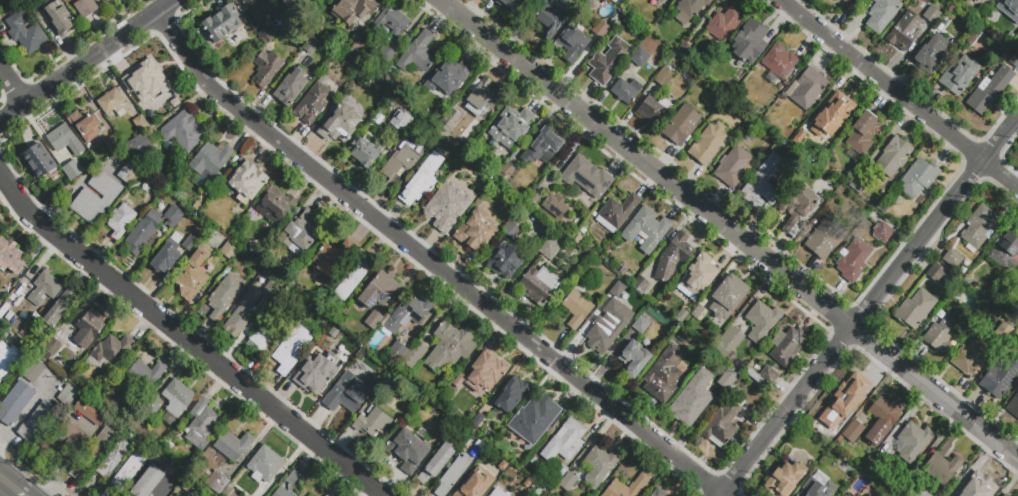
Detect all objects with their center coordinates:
building: (106, 0)
building: (844, 0)
building: (660, 1)
building: (846, 1)
building: (967, 1)
building: (980, 1)
building: (335, 2)
building: (618, 2)
building: (31, 3)
building: (289, 3)
building: (21, 5)
building: (84, 6)
building: (513, 6)
building: (593, 6)
building: (327, 8)
building: (260, 9)
building: (689, 9)
building: (952, 9)
building: (1009, 9)
building: (354, 10)
building: (882, 14)
building: (977, 18)
building: (58, 19)
building: (550, 20)
building: (392, 21)
building: (222, 23)
building: (724, 23)
building: (948, 26)
building: (911, 27)
building: (601, 29)
building: (26, 33)
building: (307, 35)
building: (974, 35)
building: (267, 37)
building: (325, 40)
building: (299, 41)
building: (573, 41)
building: (751, 41)
building: (346, 45)
building: (311, 46)
building: (686, 52)
building: (931, 54)
building: (418, 55)
building: (387, 56)
building: (640, 58)
building: (1014, 60)
road: (87, 61)
building: (608, 61)
building: (778, 63)
building: (306, 66)
building: (266, 68)
building: (134, 71)
building: (740, 71)
building: (354, 72)
building: (959, 75)
building: (448, 77)
building: (664, 77)
road: (12, 86)
building: (291, 88)
building: (806, 90)
building: (990, 90)
building: (626, 91)
road: (898, 93)
building: (132, 94)
building: (161, 98)
building: (137, 99)
building: (482, 99)
building: (111, 101)
building: (313, 102)
building: (653, 110)
building: (122, 113)
building: (832, 116)
building: (403, 120)
building: (452, 120)
building: (141, 123)
building: (86, 124)
building: (340, 124)
building: (681, 125)
building: (509, 130)
building: (182, 132)
building: (864, 132)
building: (420, 134)
building: (64, 140)
building: (113, 143)
building: (708, 144)
building: (784, 145)
building: (137, 147)
building: (542, 148)
building: (365, 150)
building: (893, 157)
building: (40, 161)
building: (210, 162)
building: (399, 165)
building: (733, 167)
building: (73, 169)
building: (510, 172)
building: (128, 174)
building: (587, 177)
building: (918, 177)
building: (246, 181)
building: (421, 182)
building: (762, 185)
building: (857, 185)
building: (52, 186)
building: (501, 194)
building: (96, 197)
building: (535, 201)
building: (151, 204)
building: (209, 206)
building: (276, 206)
building: (555, 206)
building: (446, 207)
building: (798, 207)
building: (197, 209)
building: (616, 212)
building: (175, 214)
building: (593, 214)
building: (122, 219)
building: (577, 224)
building: (979, 226)
building: (512, 228)
building: (646, 229)
road: (728, 229)
building: (882, 232)
building: (144, 233)
building: (474, 233)
building: (300, 234)
building: (584, 234)
building: (176, 237)
building: (825, 238)
building: (190, 243)
building: (253, 246)
building: (549, 247)
building: (229, 249)
building: (1006, 252)
building: (10, 256)
building: (673, 256)
building: (333, 258)
building: (164, 259)
building: (952, 259)
building: (505, 261)
building: (854, 261)
road: (431, 263)
building: (228, 269)
building: (937, 273)
building: (963, 273)
building: (701, 274)
building: (192, 275)
building: (1017, 277)
building: (353, 278)
building: (14, 284)
building: (539, 285)
building: (642, 286)
building: (45, 288)
building: (272, 288)
building: (379, 290)
building: (4, 294)
building: (611, 294)
building: (691, 294)
building: (249, 295)
building: (224, 297)
building: (727, 299)
building: (0, 304)
building: (19, 306)
road: (869, 306)
building: (915, 308)
building: (31, 309)
building: (577, 310)
building: (56, 312)
building: (12, 314)
building: (405, 315)
building: (697, 315)
building: (374, 319)
building: (238, 320)
building: (14, 321)
building: (762, 321)
building: (609, 325)
building: (640, 325)
building: (88, 328)
building: (943, 332)
building: (266, 336)
road: (188, 338)
building: (683, 338)
building: (728, 342)
building: (337, 345)
building: (788, 345)
building: (321, 347)
building: (450, 347)
building: (51, 349)
building: (291, 349)
building: (342, 349)
building: (397, 350)
building: (109, 352)
building: (972, 355)
building: (413, 356)
building: (8, 358)
building: (633, 359)
building: (731, 360)
building: (341, 362)
building: (305, 370)
building: (34, 371)
building: (483, 373)
building: (384, 375)
building: (663, 375)
building: (764, 376)
building: (1001, 377)
building: (141, 378)
building: (420, 378)
building: (728, 379)
building: (321, 382)
building: (846, 392)
building: (347, 393)
building: (67, 395)
building: (511, 395)
building: (691, 398)
building: (15, 402)
building: (177, 402)
building: (154, 407)
building: (1013, 407)
building: (90, 410)
building: (466, 416)
building: (143, 418)
building: (882, 418)
building: (534, 419)
building: (397, 421)
building: (452, 421)
building: (37, 422)
building: (371, 422)
building: (201, 423)
building: (477, 425)
building: (722, 425)
building: (820, 425)
building: (854, 431)
building: (839, 439)
building: (564, 441)
building: (913, 441)
building: (809, 444)
building: (64, 445)
building: (232, 446)
building: (100, 448)
building: (407, 451)
building: (474, 452)
building: (833, 454)
building: (862, 454)
building: (113, 459)
building: (436, 463)
building: (265, 465)
building: (600, 466)
building: (942, 467)
road: (34, 468)
building: (129, 471)
building: (78, 474)
building: (453, 475)
building: (293, 478)
building: (784, 478)
building: (567, 481)
building: (148, 482)
building: (218, 483)
building: (93, 484)
building: (472, 485)
building: (638, 485)
road: (12, 486)
building: (162, 486)
building: (186, 487)
building: (535, 487)
building: (975, 487)
road: (167, 488)
building: (844, 489)
building: (551, 490)
building: (282, 492)
building: (658, 492)
building: (497, 493)
building: (539, 493)
building: (807, 493)
building: (108, 494)
building: (923, 494)
building: (187, 495)
building: (190, 495)
building: (246, 495)
building: (489, 495)
building: (847, 495)
building: (1004, 495)
building: (1006, 495)

